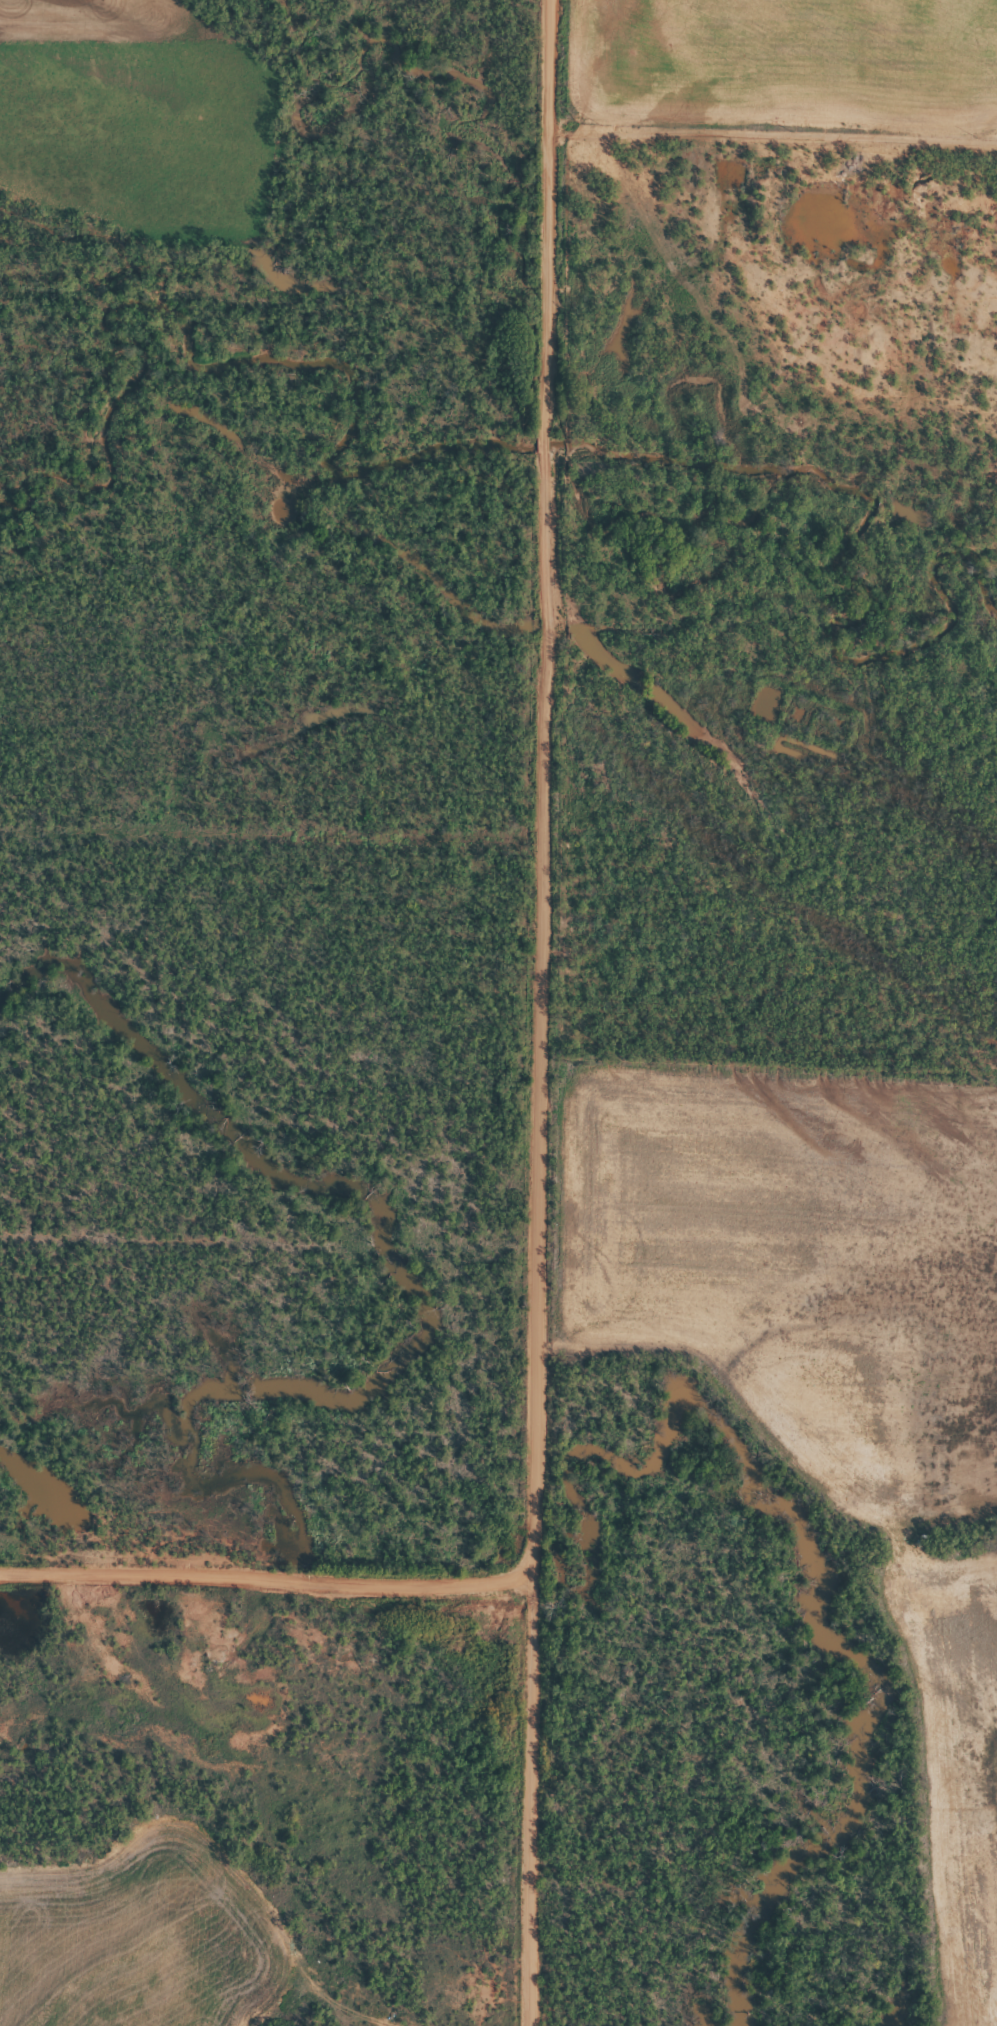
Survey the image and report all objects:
road: (520, 1012)
road: (151, 1599)
road: (405, 1602)

